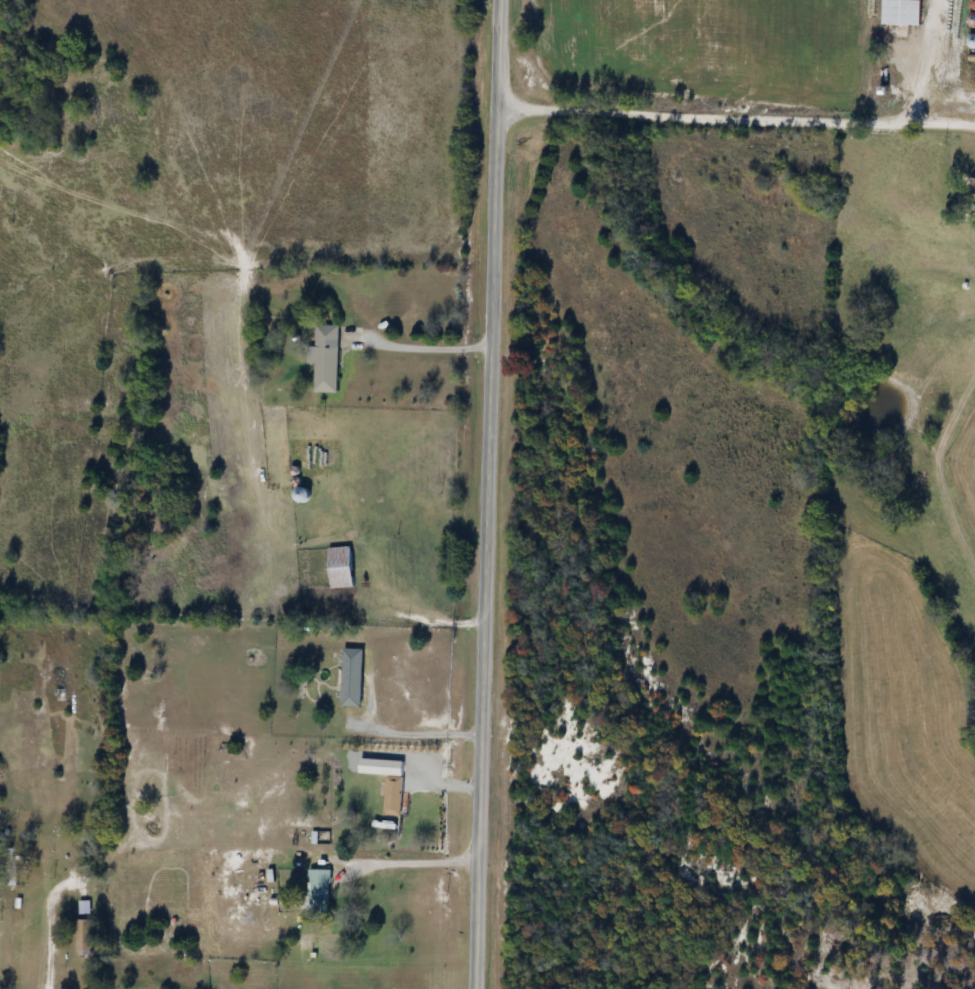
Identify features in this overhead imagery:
building: (903, 13)
road: (735, 121)
building: (974, 188)
road: (430, 348)
building: (327, 360)
road: (490, 494)
building: (303, 496)
building: (342, 568)
road: (407, 605)
building: (353, 679)
road: (417, 732)
building: (394, 797)
building: (241, 803)
road: (408, 861)
building: (12, 868)
building: (320, 892)
building: (84, 908)
road: (51, 927)
building: (85, 938)

